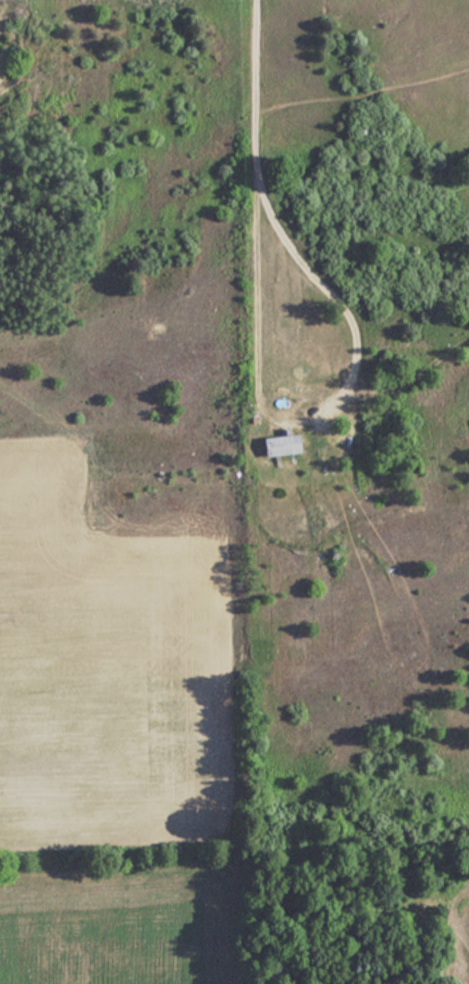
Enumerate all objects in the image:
building: (276, 445)

